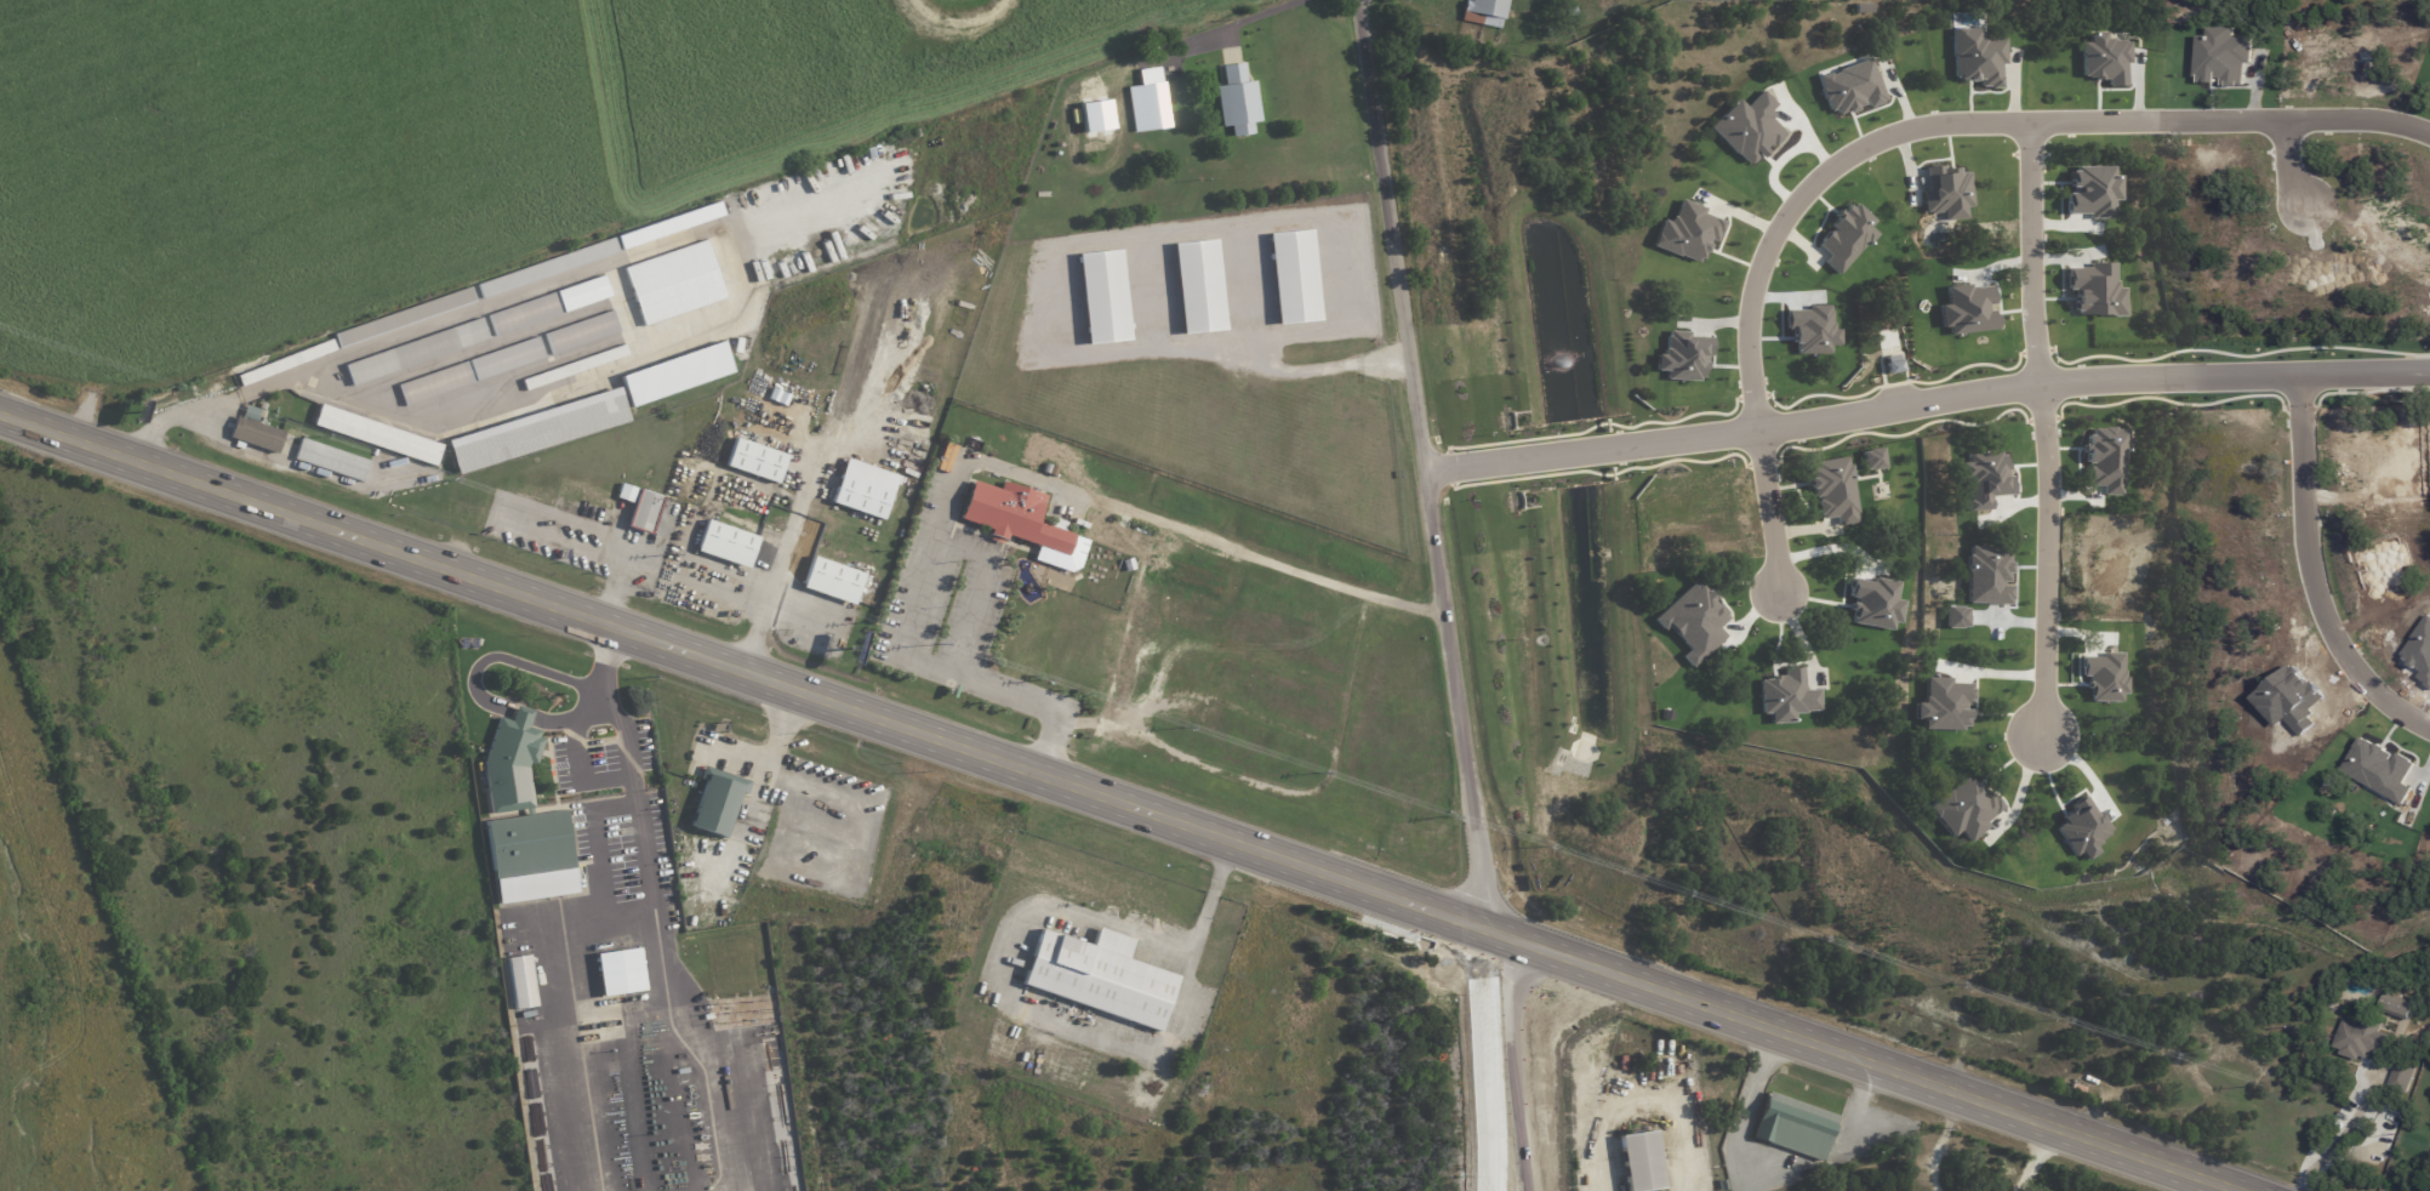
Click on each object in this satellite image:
building: (1483, 12)
road: (1211, 22)
building: (1147, 101)
building: (1237, 101)
road: (1992, 118)
road: (2280, 163)
building: (669, 226)
road: (736, 239)
road: (1069, 246)
road: (2041, 246)
building: (1294, 277)
building: (673, 283)
building: (1198, 285)
building: (1103, 295)
building: (548, 306)
building: (404, 317)
building: (569, 336)
building: (415, 352)
building: (581, 364)
building: (469, 371)
building: (675, 374)
road: (1926, 388)
road: (171, 417)
building: (534, 432)
building: (256, 434)
building: (376, 434)
building: (330, 460)
building: (754, 460)
road: (986, 462)
road: (1427, 463)
road: (298, 467)
building: (862, 489)
road: (1767, 505)
building: (639, 507)
building: (1011, 515)
road: (599, 540)
building: (726, 543)
road: (641, 553)
road: (2042, 559)
road: (778, 560)
road: (2297, 577)
building: (831, 580)
road: (981, 585)
building: (1165, 608)
road: (797, 612)
building: (1230, 631)
road: (504, 656)
building: (1227, 666)
road: (611, 706)
road: (583, 707)
road: (520, 716)
building: (1314, 719)
road: (1151, 737)
road: (983, 756)
road: (572, 760)
building: (507, 767)
building: (1403, 794)
building: (713, 797)
road: (593, 836)
road: (638, 840)
building: (529, 855)
road: (1004, 962)
building: (617, 970)
building: (1099, 975)
building: (521, 981)
road: (548, 1002)
building: (2396, 1005)
building: (2360, 1038)
road: (720, 1049)
road: (1488, 1060)
road: (1624, 1090)
building: (1793, 1126)
road: (2343, 1134)
road: (2100, 1145)
building: (1639, 1157)

